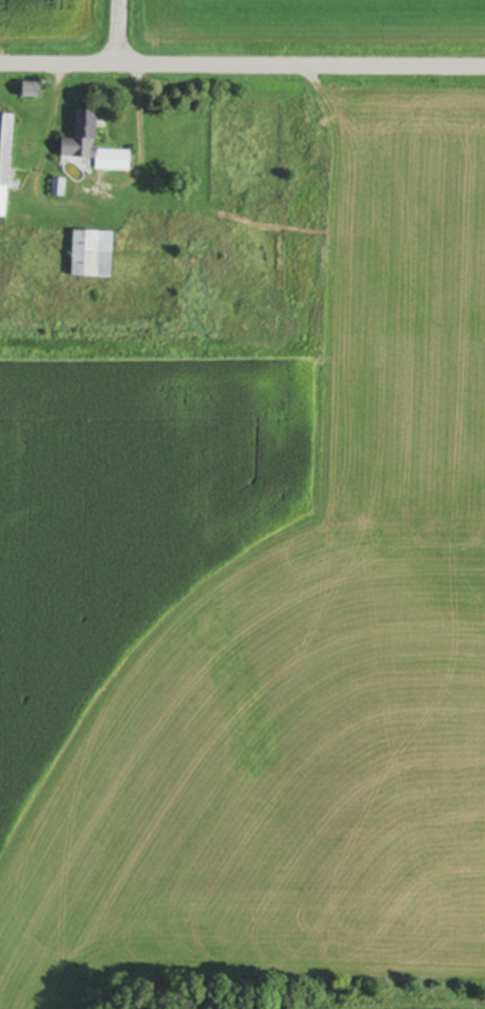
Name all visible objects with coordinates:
road: (120, 33)
road: (242, 67)
building: (30, 93)
building: (92, 148)
building: (5, 165)
building: (90, 252)

